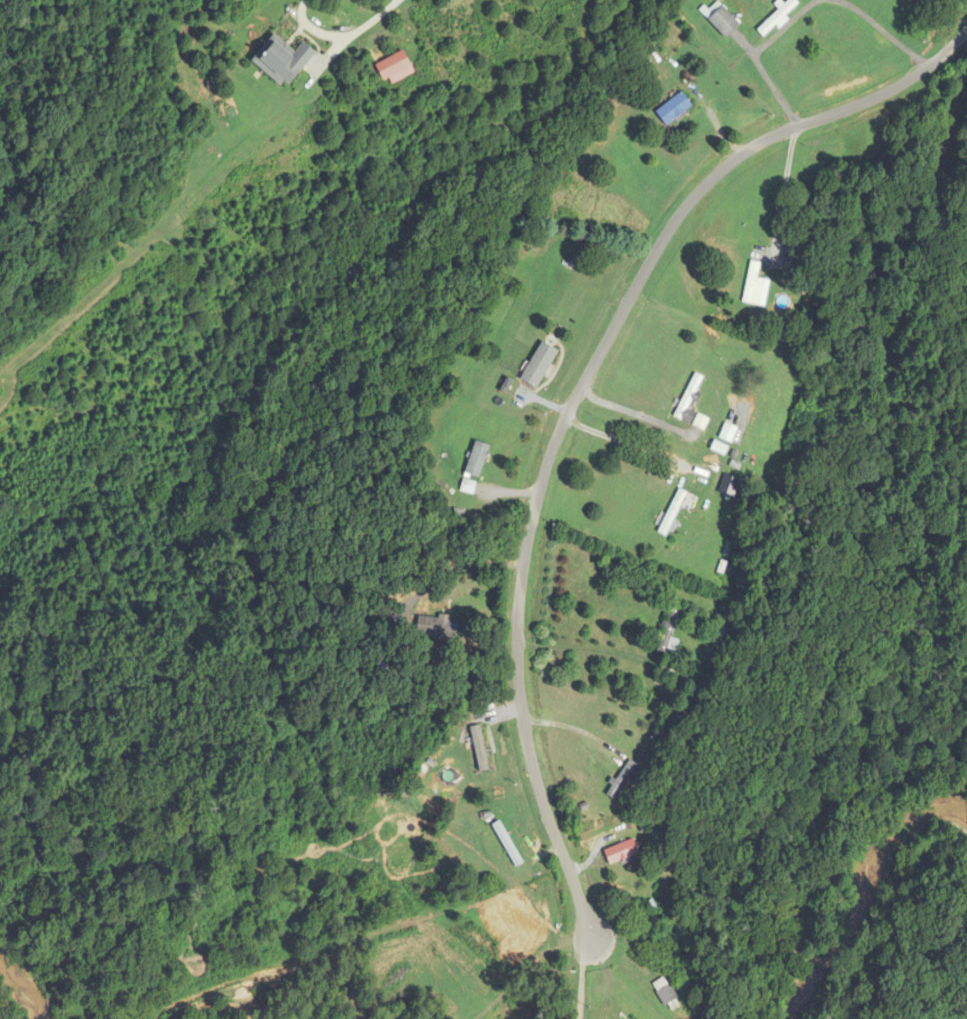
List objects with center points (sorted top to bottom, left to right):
building: (777, 18)
building: (721, 19)
road: (375, 22)
building: (392, 66)
building: (673, 109)
road: (783, 196)
building: (965, 255)
building: (750, 282)
building: (538, 365)
building: (687, 400)
road: (573, 401)
road: (627, 411)
building: (727, 433)
building: (475, 460)
building: (466, 487)
building: (671, 513)
building: (436, 629)
building: (668, 634)
road: (579, 648)
building: (668, 672)
building: (620, 780)
building: (506, 845)
building: (619, 853)
road: (585, 978)
building: (663, 991)

